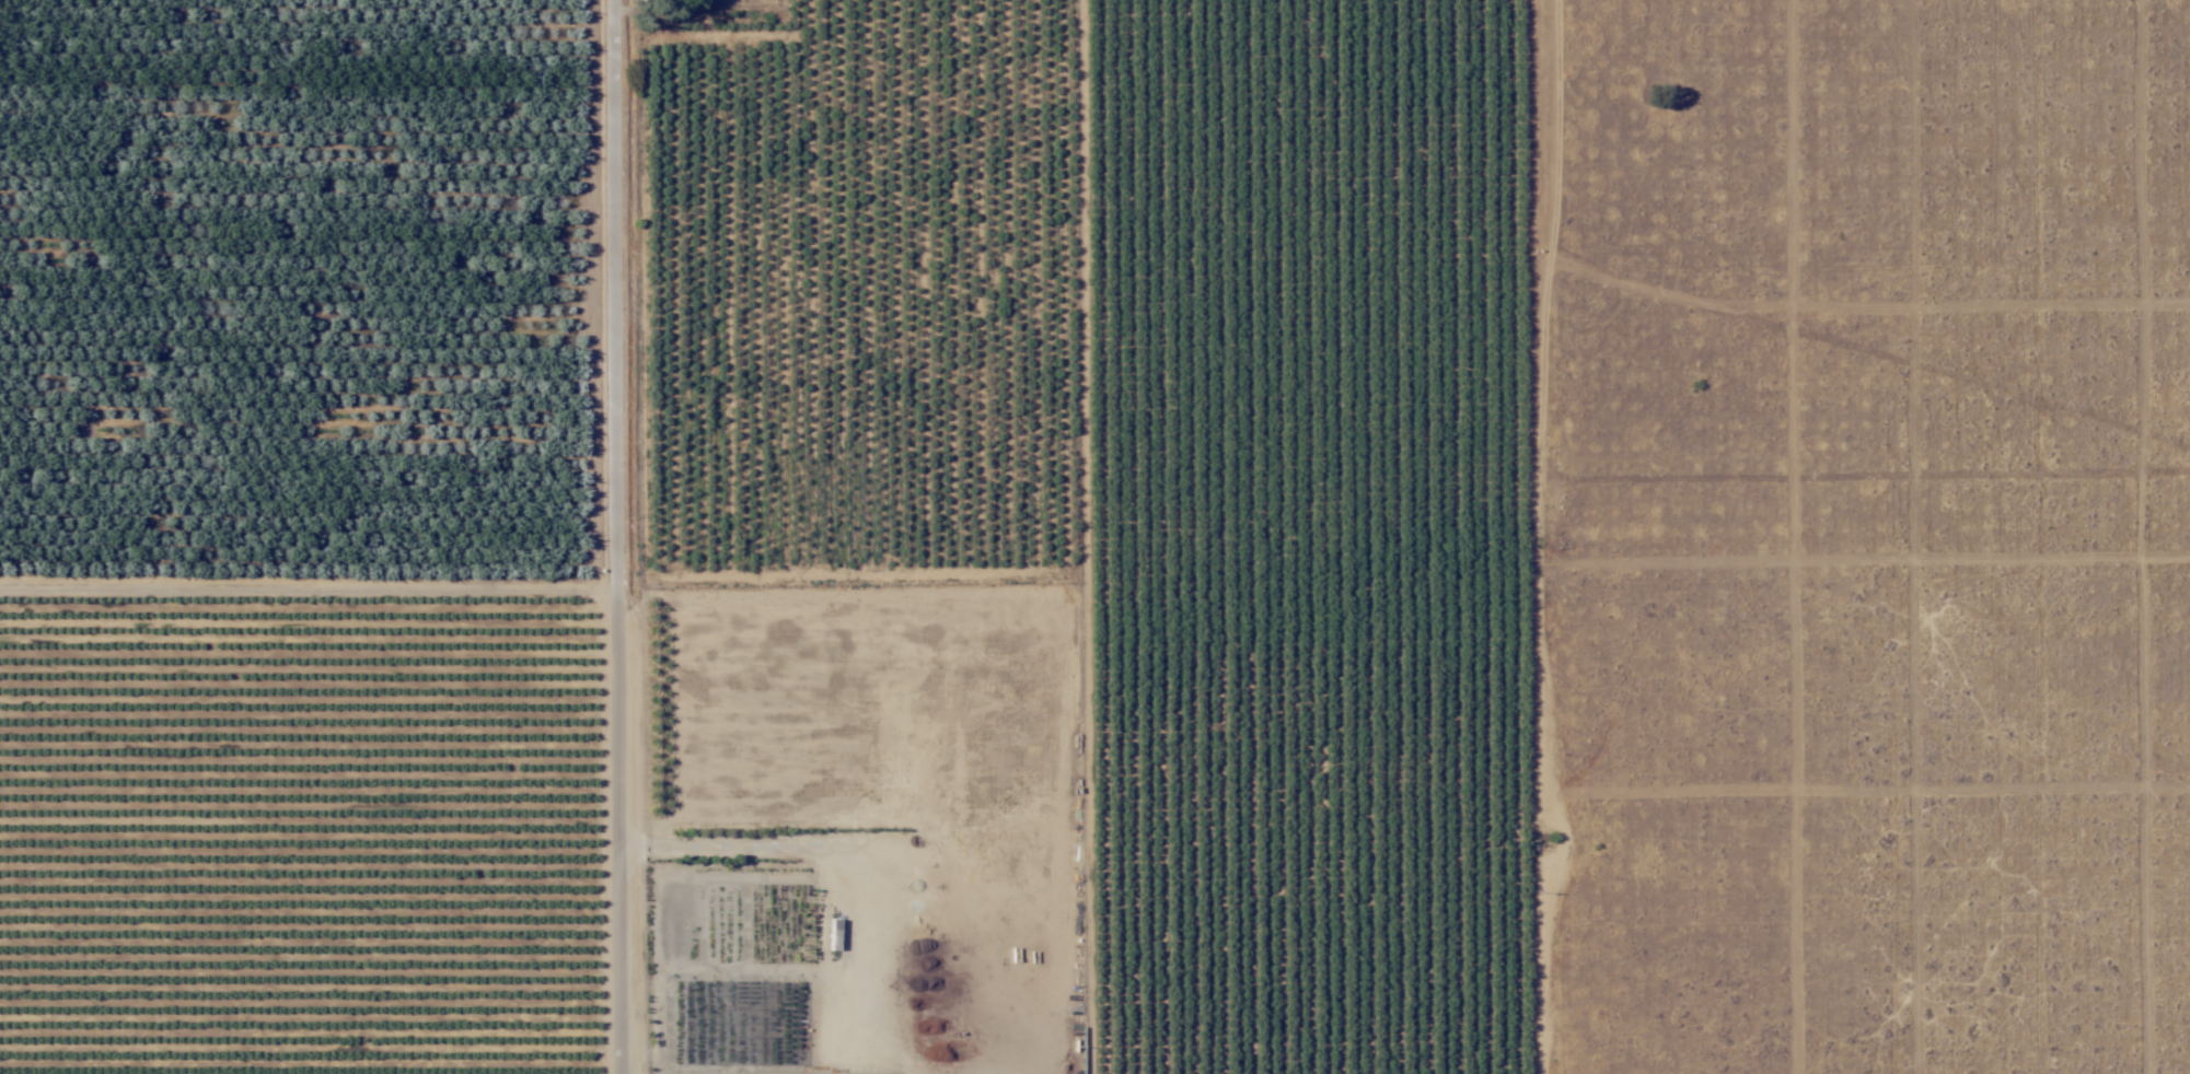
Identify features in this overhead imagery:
road: (621, 537)
road: (690, 968)

